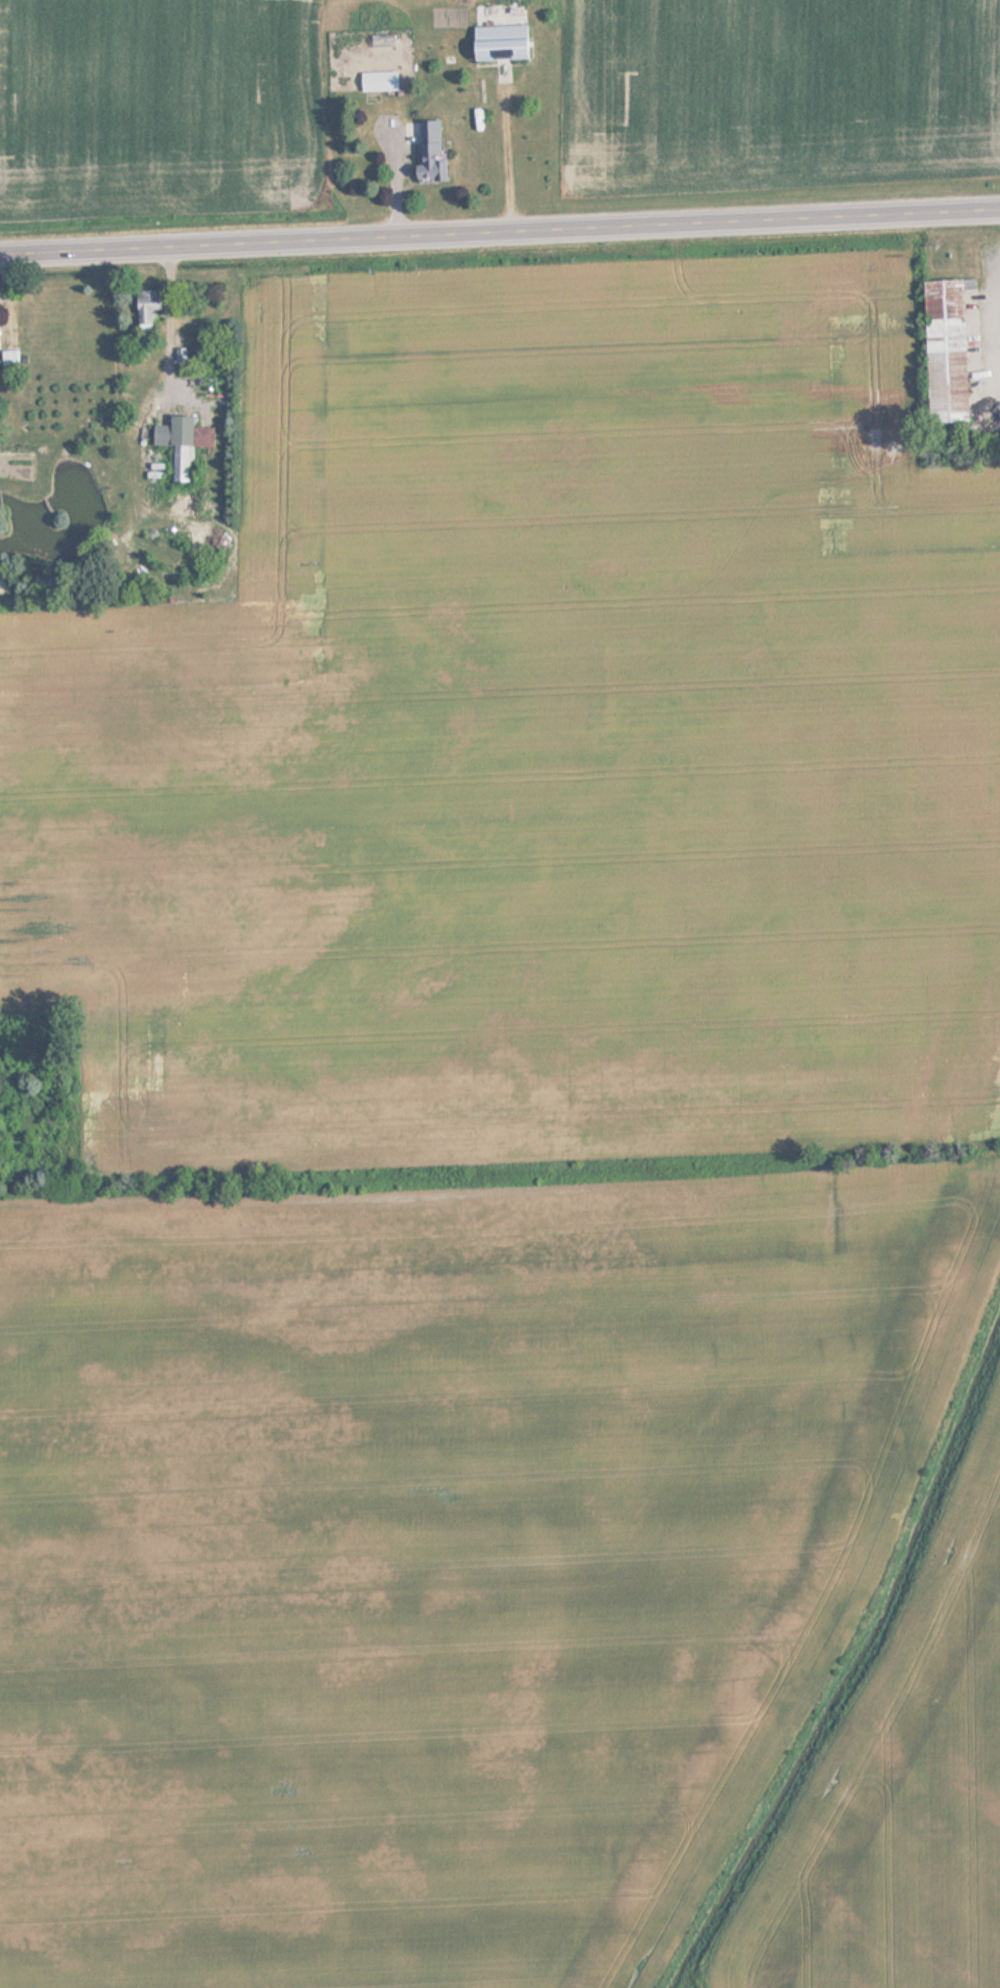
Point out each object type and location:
building: (380, 39)
building: (496, 42)
building: (377, 81)
building: (427, 152)
road: (500, 233)
building: (143, 308)
building: (943, 349)
building: (7, 362)
building: (176, 445)

